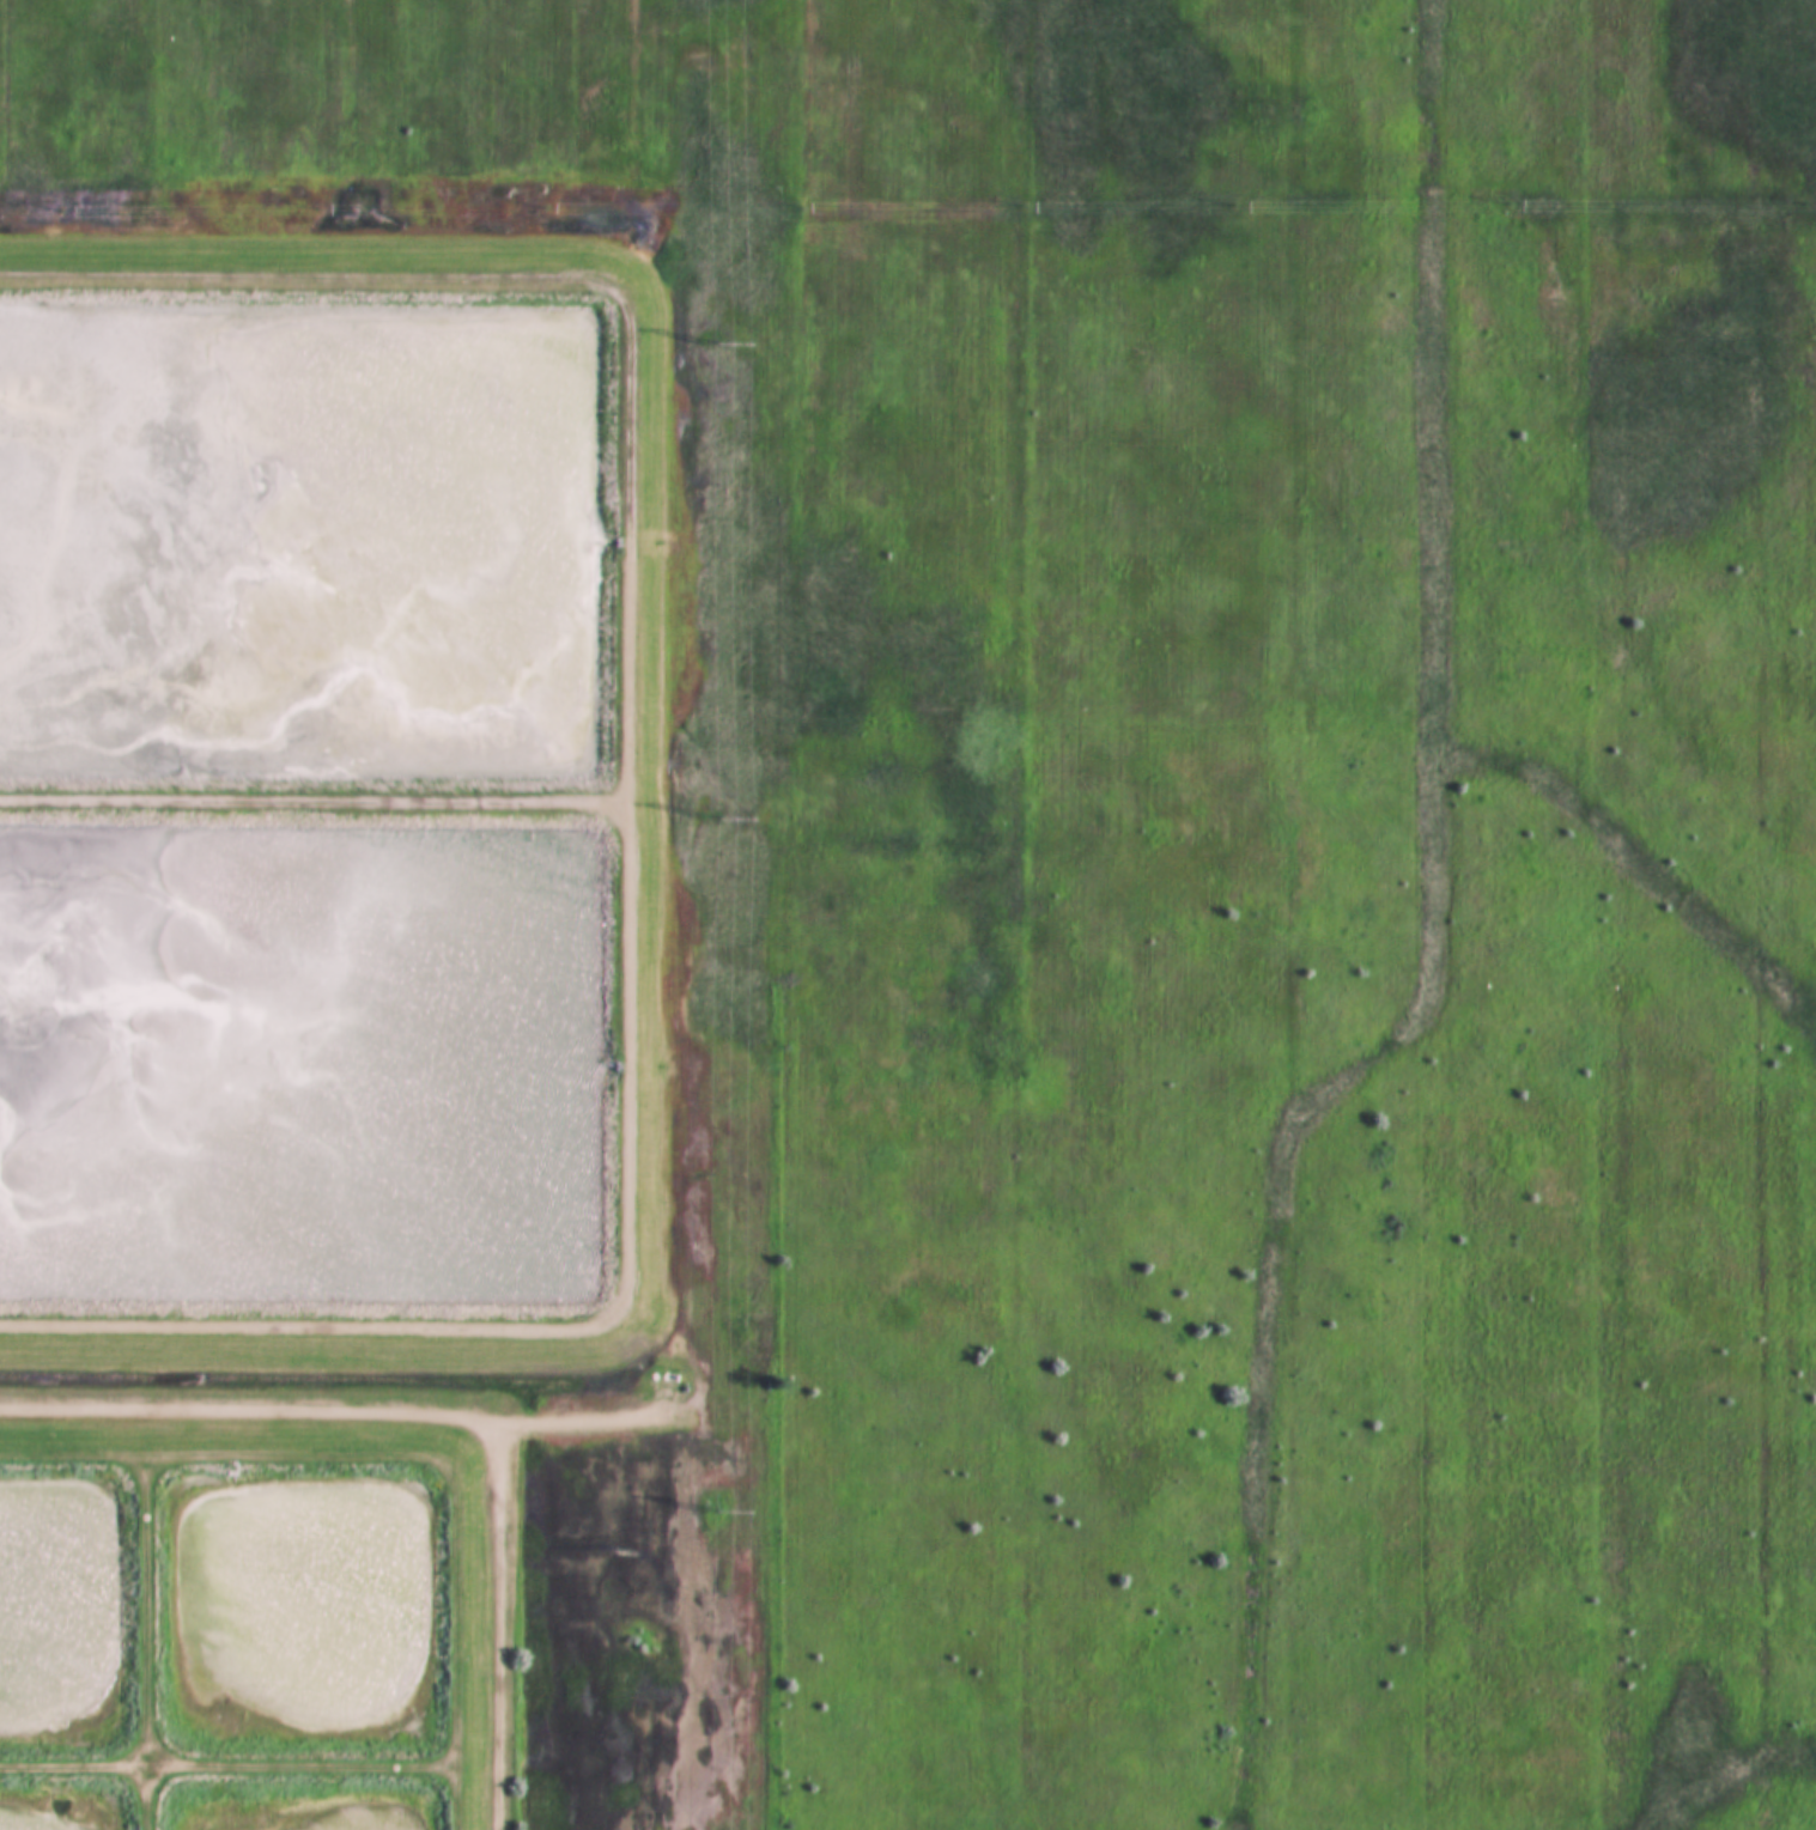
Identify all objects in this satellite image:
power tower: (711, 343)
power tower: (711, 821)
power tower: (710, 1512)

